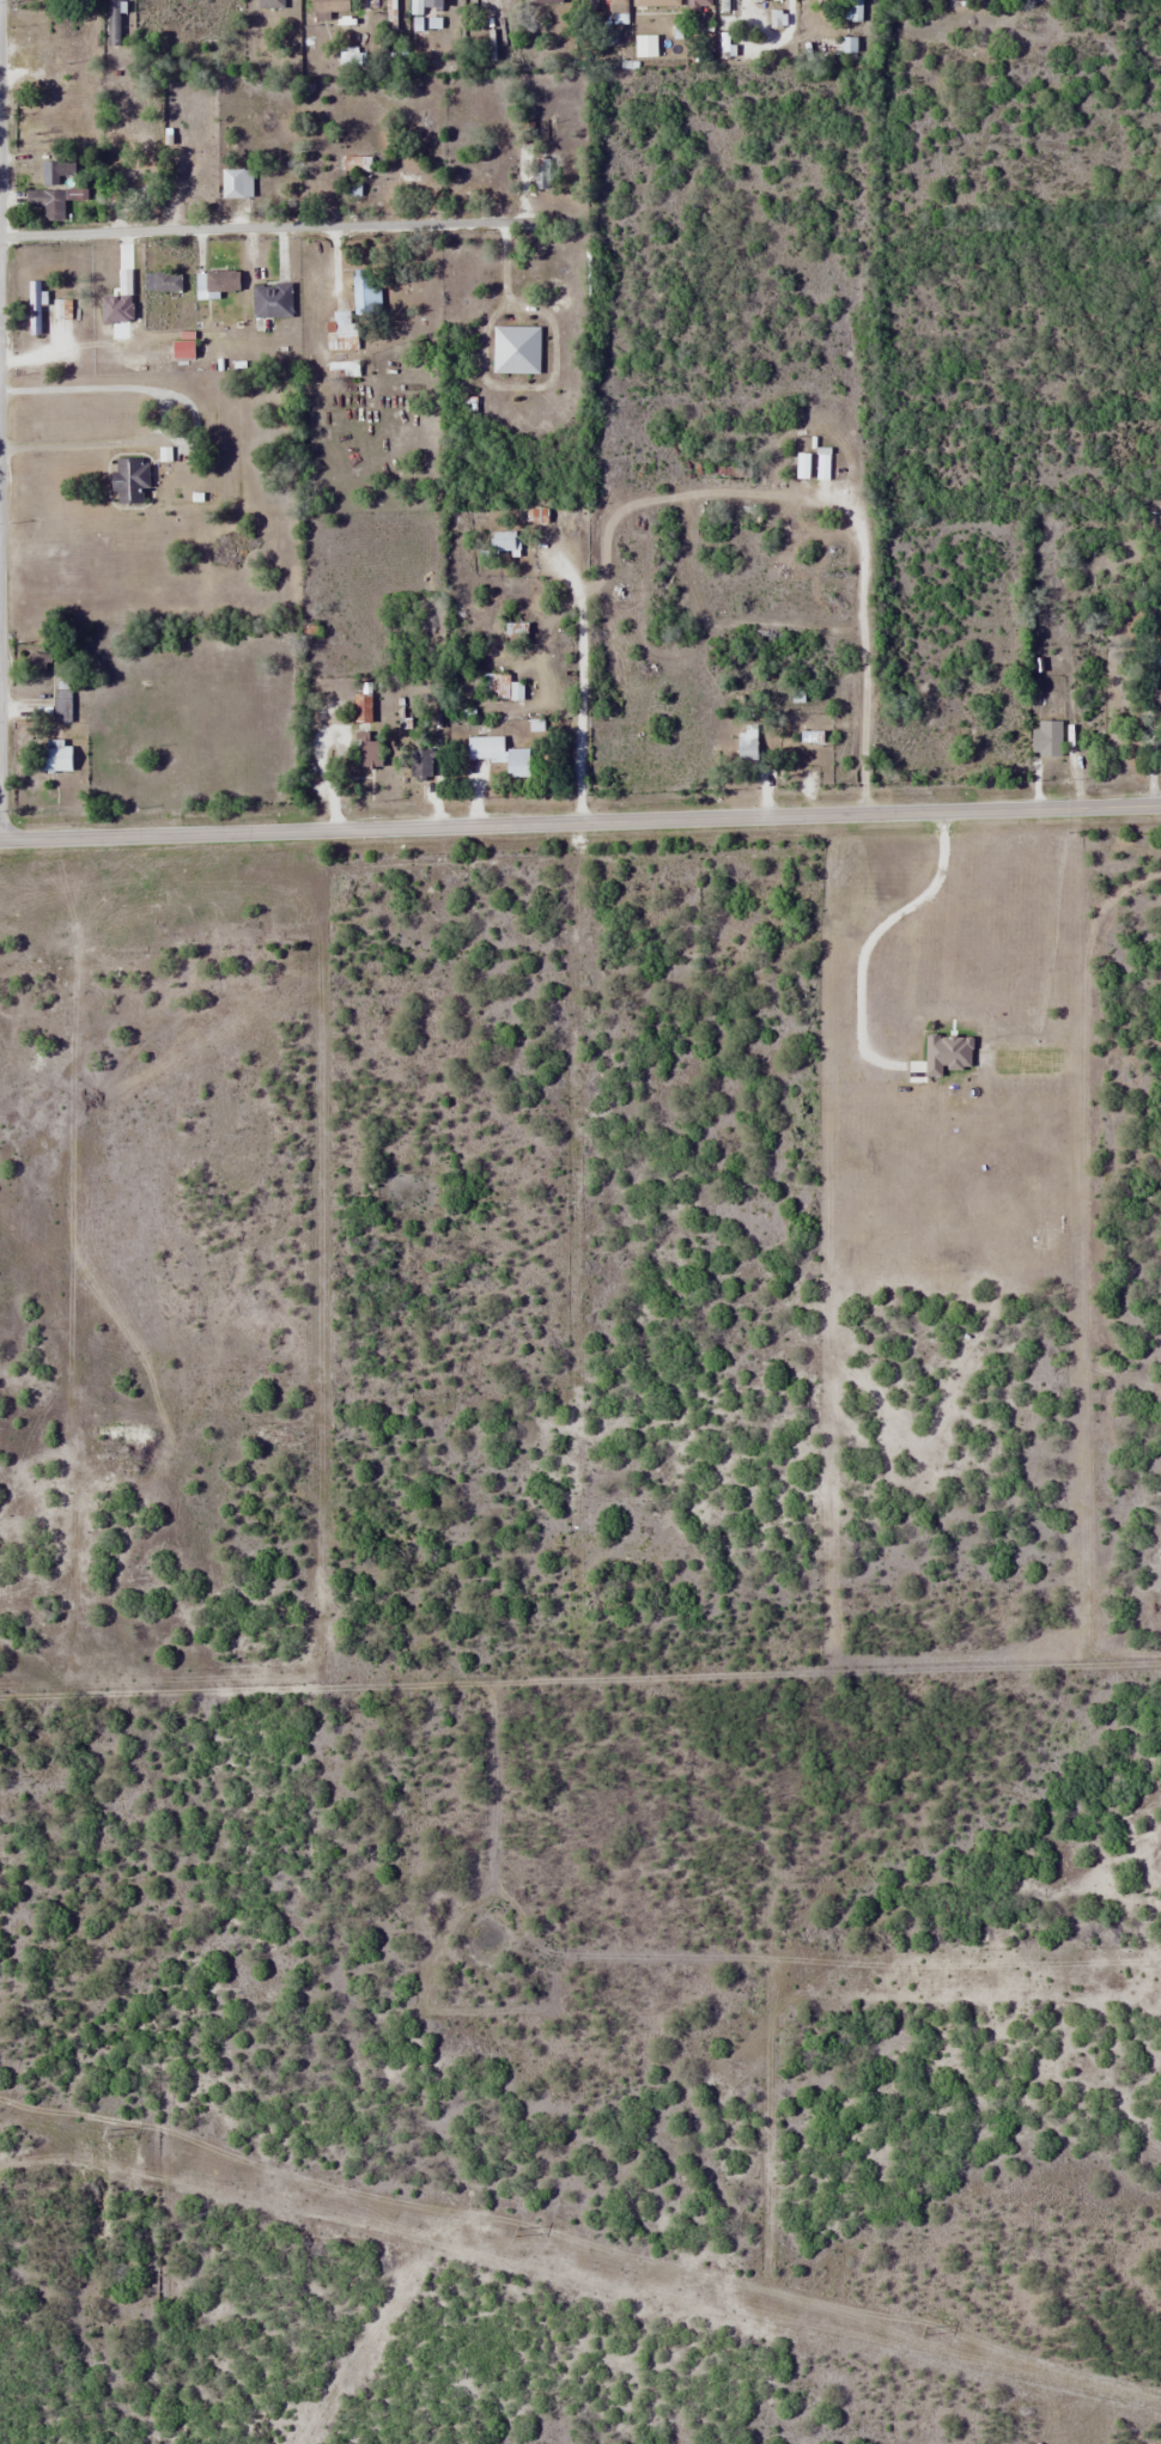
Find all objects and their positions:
building: (79, 0)
building: (756, 0)
building: (776, 0)
building: (546, 1)
building: (45, 2)
building: (655, 2)
building: (271, 4)
building: (430, 4)
building: (588, 4)
building: (723, 5)
building: (326, 6)
building: (615, 7)
building: (187, 8)
building: (853, 10)
building: (390, 14)
building: (776, 18)
building: (49, 24)
building: (847, 47)
building: (51, 74)
building: (56, 102)
building: (56, 172)
building: (235, 183)
building: (312, 183)
building: (45, 202)
road: (266, 227)
building: (160, 281)
building: (217, 281)
building: (365, 293)
building: (34, 308)
building: (61, 309)
building: (515, 349)
building: (342, 369)
building: (822, 463)
building: (801, 470)
building: (128, 481)
building: (503, 541)
building: (494, 685)
building: (1045, 737)
building: (746, 744)
building: (484, 747)
building: (53, 758)
building: (419, 762)
road: (580, 821)
power tower: (110, 2130)
power tower: (516, 2229)
power tower: (924, 2331)

